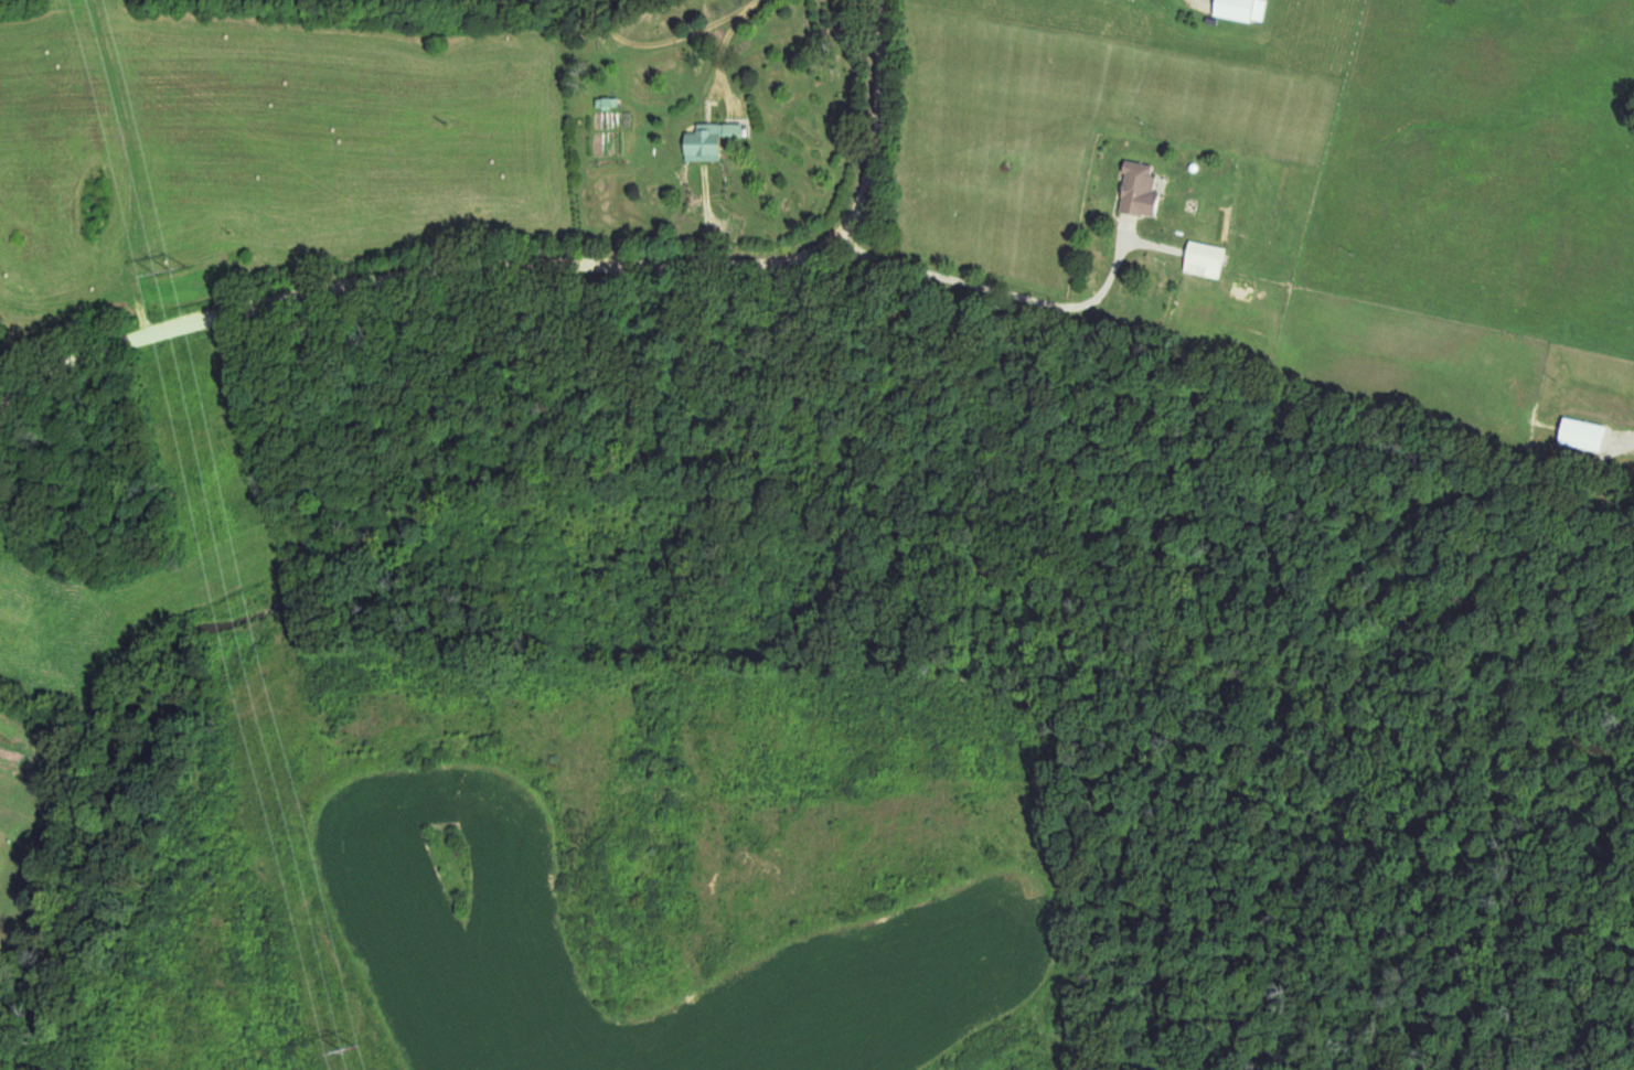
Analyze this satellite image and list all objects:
road: (660, 40)
building: (607, 101)
building: (713, 140)
building: (1143, 189)
road: (532, 259)
power tower: (173, 269)
road: (1008, 295)
power tower: (352, 1053)

